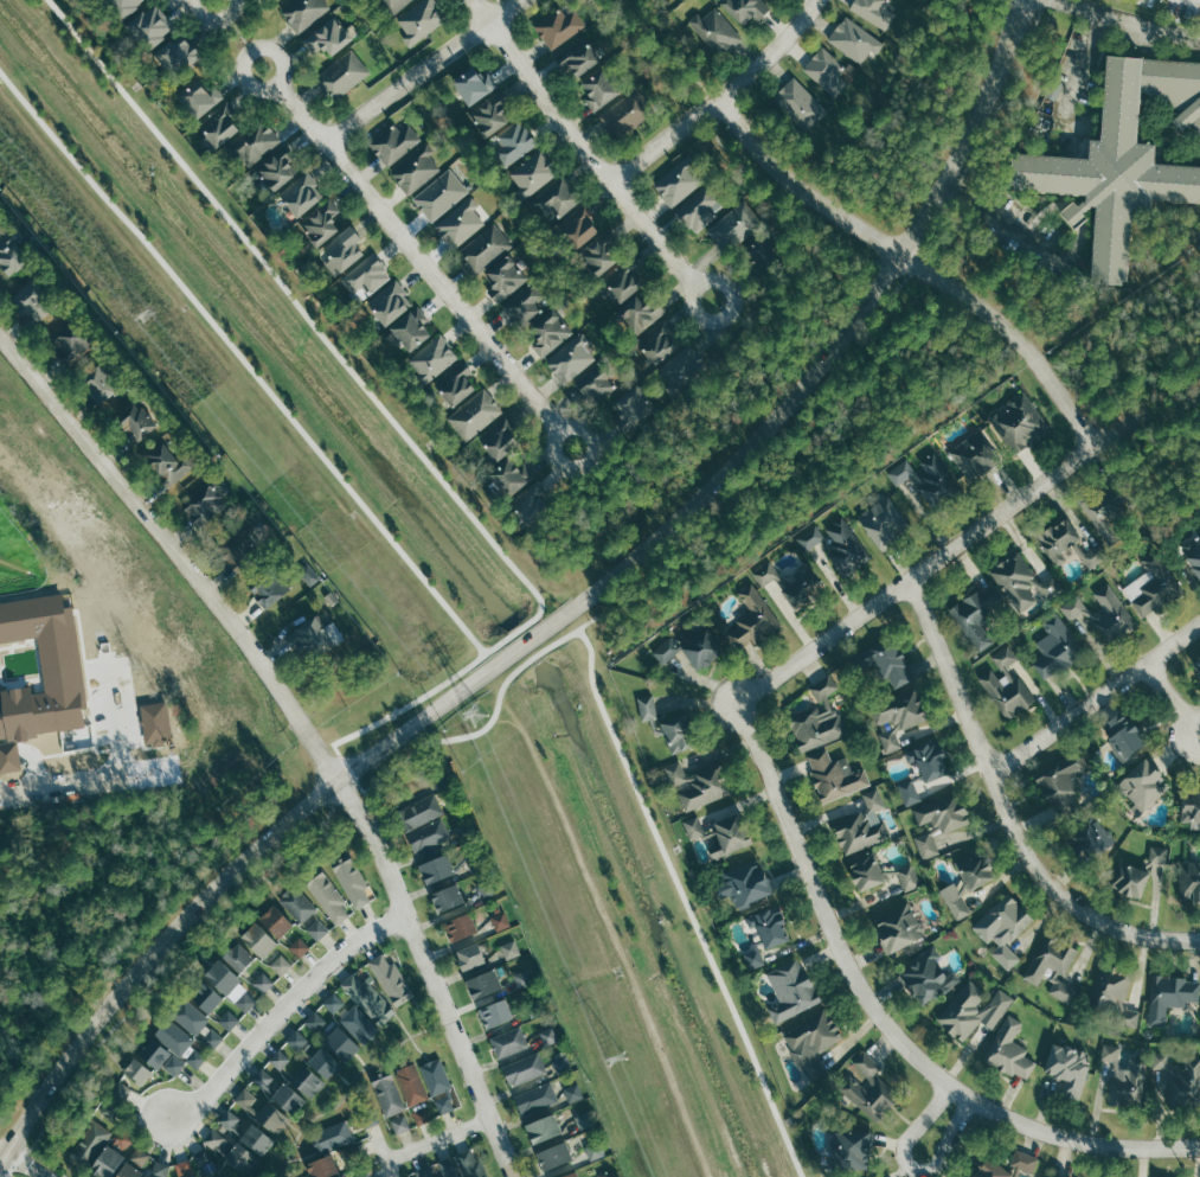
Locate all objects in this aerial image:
building: (396, 5)
building: (123, 6)
road: (1015, 6)
road: (1019, 6)
building: (746, 8)
building: (874, 12)
building: (304, 13)
road: (1129, 19)
building: (419, 20)
building: (557, 27)
building: (149, 28)
building: (714, 31)
building: (329, 37)
building: (853, 40)
building: (178, 55)
road: (1084, 55)
building: (577, 56)
road: (421, 70)
building: (827, 72)
building: (341, 75)
building: (474, 84)
building: (599, 89)
building: (199, 97)
road: (717, 100)
building: (798, 104)
building: (627, 113)
building: (490, 114)
building: (220, 123)
building: (392, 142)
building: (251, 143)
building: (512, 143)
road: (588, 152)
building: (1123, 156)
building: (275, 168)
building: (415, 169)
building: (532, 172)
building: (678, 181)
road: (800, 187)
building: (302, 194)
building: (438, 194)
building: (558, 198)
building: (697, 207)
building: (1074, 212)
building: (460, 222)
building: (320, 223)
road: (1008, 223)
building: (579, 225)
building: (733, 226)
road: (405, 243)
building: (483, 249)
building: (13, 250)
building: (342, 251)
building: (601, 252)
building: (761, 255)
building: (364, 277)
building: (503, 277)
building: (623, 280)
building: (34, 299)
building: (389, 302)
building: (524, 306)
power tower: (145, 312)
building: (640, 313)
building: (411, 331)
road: (1014, 331)
building: (548, 333)
building: (72, 334)
road: (841, 340)
building: (659, 341)
building: (432, 357)
building: (570, 358)
building: (681, 369)
building: (100, 380)
building: (597, 380)
building: (457, 384)
building: (633, 407)
building: (473, 415)
building: (135, 418)
building: (1019, 424)
building: (501, 439)
building: (975, 456)
building: (167, 463)
building: (511, 476)
building: (928, 479)
building: (203, 503)
building: (532, 504)
building: (1108, 510)
building: (884, 523)
building: (810, 537)
building: (1060, 538)
road: (178, 548)
building: (238, 548)
building: (845, 549)
road: (942, 554)
building: (1193, 554)
building: (1093, 555)
building: (1020, 583)
building: (270, 586)
building: (792, 586)
building: (1151, 588)
building: (976, 615)
building: (1112, 618)
building: (751, 620)
building: (312, 638)
road: (528, 644)
building: (702, 648)
building: (666, 650)
building: (1055, 650)
building: (1199, 655)
building: (883, 663)
building: (1195, 667)
building: (1006, 685)
road: (1096, 701)
road: (1175, 702)
building: (647, 709)
power tower: (474, 714)
building: (897, 716)
building: (817, 718)
building: (678, 734)
building: (1118, 736)
building: (923, 769)
building: (835, 775)
building: (698, 782)
building: (1059, 785)
building: (1138, 787)
road: (21, 788)
building: (1189, 808)
road: (1006, 811)
building: (418, 812)
building: (937, 820)
building: (861, 825)
building: (693, 827)
building: (732, 833)
building: (428, 836)
building: (1087, 839)
building: (1159, 855)
building: (474, 863)
building: (438, 869)
building: (881, 874)
building: (969, 879)
building: (1127, 881)
building: (352, 882)
building: (746, 882)
building: (1188, 883)
road: (207, 890)
building: (328, 896)
building: (448, 897)
building: (296, 903)
building: (277, 920)
building: (500, 921)
building: (770, 925)
building: (460, 927)
building: (898, 927)
building: (1002, 927)
building: (316, 929)
building: (259, 939)
building: (300, 946)
building: (509, 948)
building: (470, 955)
building: (752, 958)
building: (282, 965)
building: (1052, 966)
building: (230, 967)
building: (926, 975)
building: (391, 978)
road: (425, 978)
building: (522, 978)
building: (262, 983)
building: (485, 983)
building: (791, 989)
building: (205, 996)
building: (1110, 997)
building: (1169, 997)
building: (366, 998)
building: (244, 1002)
building: (332, 1002)
road: (278, 1008)
building: (970, 1009)
building: (495, 1012)
building: (188, 1016)
building: (227, 1019)
building: (316, 1021)
road: (884, 1022)
building: (351, 1034)
building: (548, 1036)
building: (296, 1038)
building: (507, 1041)
building: (811, 1041)
building: (166, 1047)
building: (1008, 1049)
building: (1108, 1054)
building: (194, 1057)
building: (280, 1058)
power tower: (615, 1058)
building: (325, 1062)
building: (522, 1069)
building: (1066, 1069)
building: (139, 1070)
building: (435, 1076)
building: (411, 1085)
building: (1175, 1085)
building: (1127, 1086)
building: (297, 1088)
building: (868, 1088)
building: (118, 1090)
building: (277, 1090)
building: (573, 1093)
building: (387, 1094)
building: (535, 1098)
building: (246, 1099)
building: (444, 1104)
building: (109, 1111)
building: (271, 1117)
building: (230, 1119)
building: (399, 1124)
road: (939, 1124)
building: (545, 1127)
building: (331, 1137)
building: (257, 1138)
road: (426, 1140)
building: (547, 1141)
building: (88, 1144)
building: (851, 1149)
building: (593, 1150)
building: (232, 1153)
building: (556, 1154)
building: (108, 1162)
road: (25, 1163)
building: (1005, 1165)
building: (322, 1166)
building: (182, 1169)
building: (129, 1170)
building: (160, 1170)
road: (2, 1172)
building: (423, 1172)
building: (216, 1173)
building: (609, 1173)
building: (571, 1175)
building: (342, 1176)
building: (365, 1176)
building: (456, 1176)

